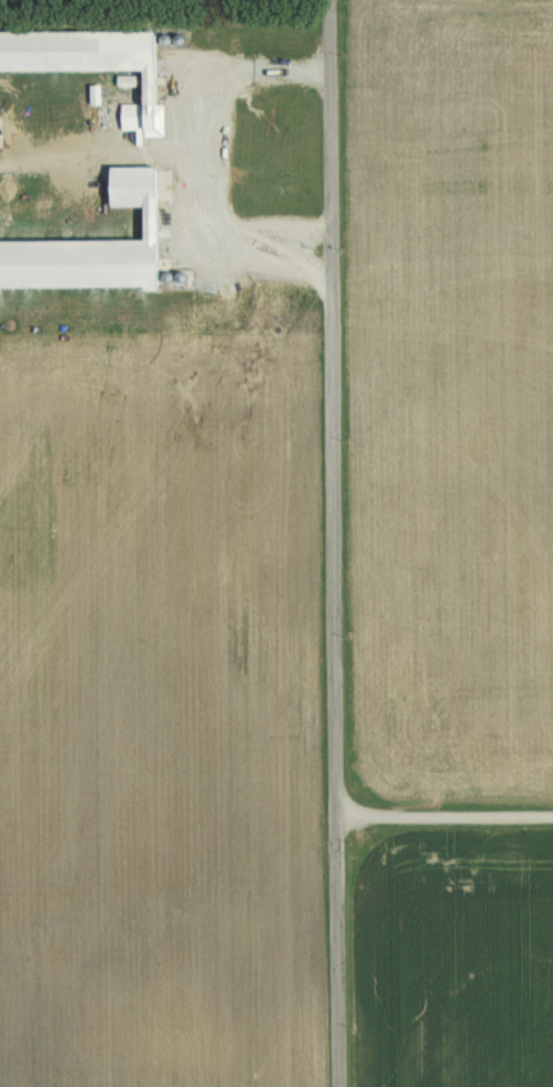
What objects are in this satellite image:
building: (71, 47)
road: (176, 142)
road: (330, 542)
road: (442, 812)

